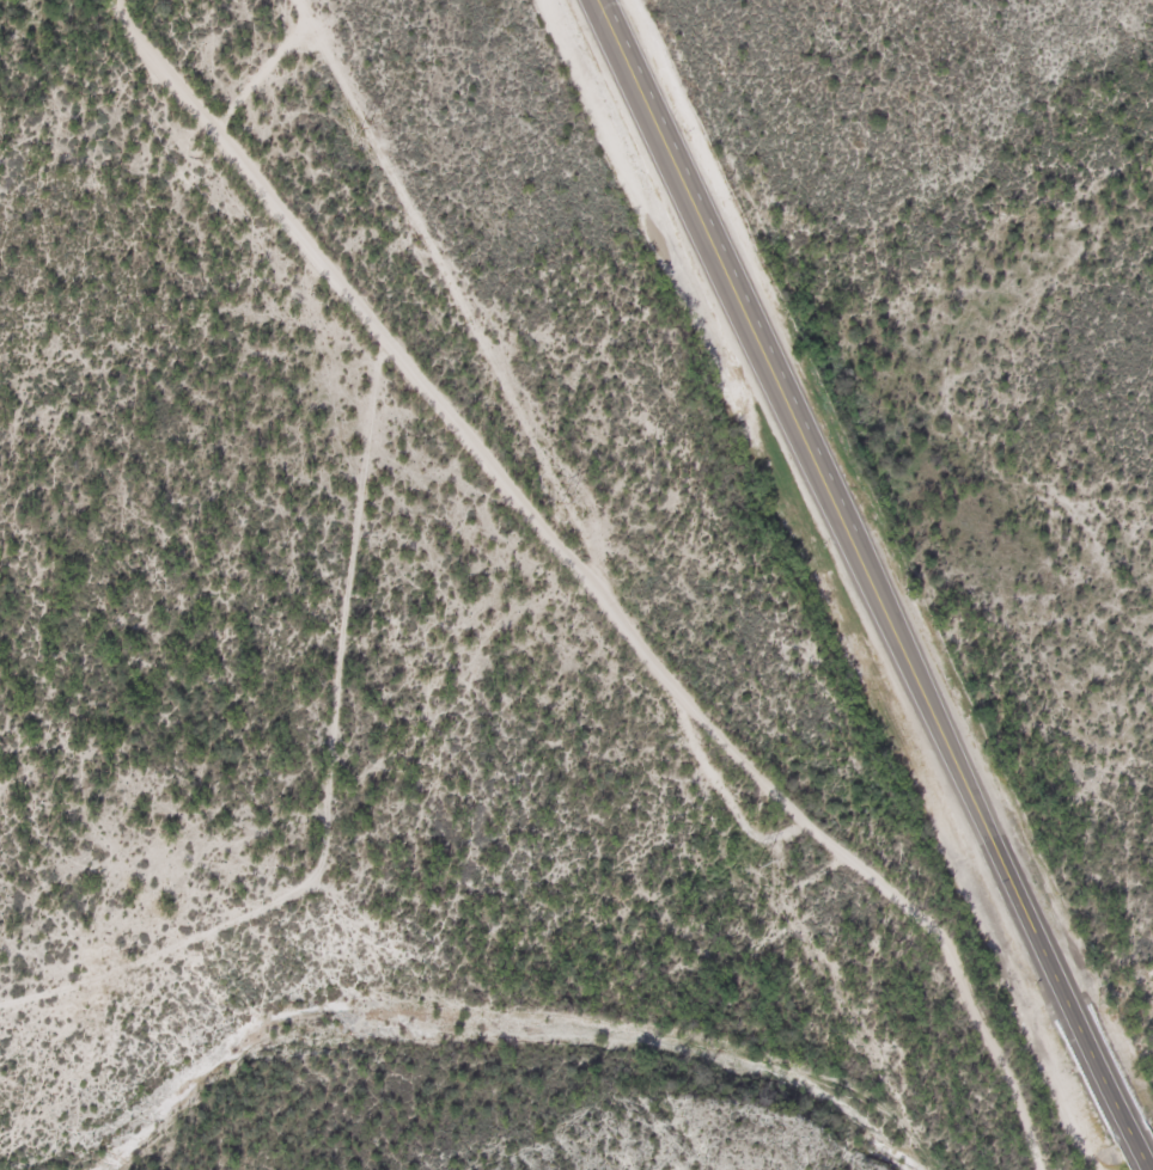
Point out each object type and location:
power tower: (366, 129)
power tower: (563, 502)
road: (358, 565)
road: (868, 584)
power tower: (757, 866)

